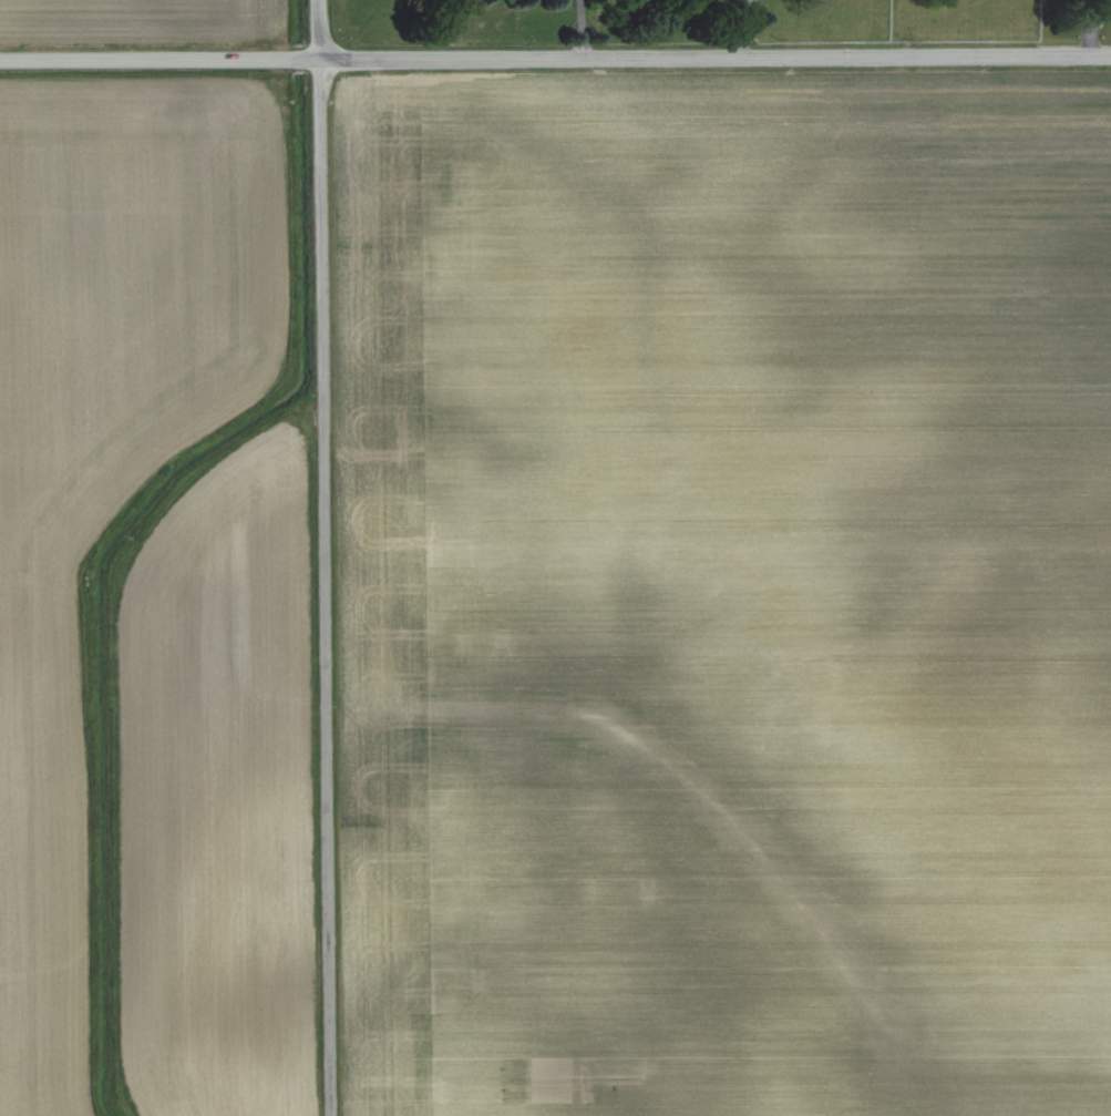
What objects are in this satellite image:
road: (738, 9)
road: (752, 11)
road: (741, 37)
road: (555, 57)
road: (325, 557)

